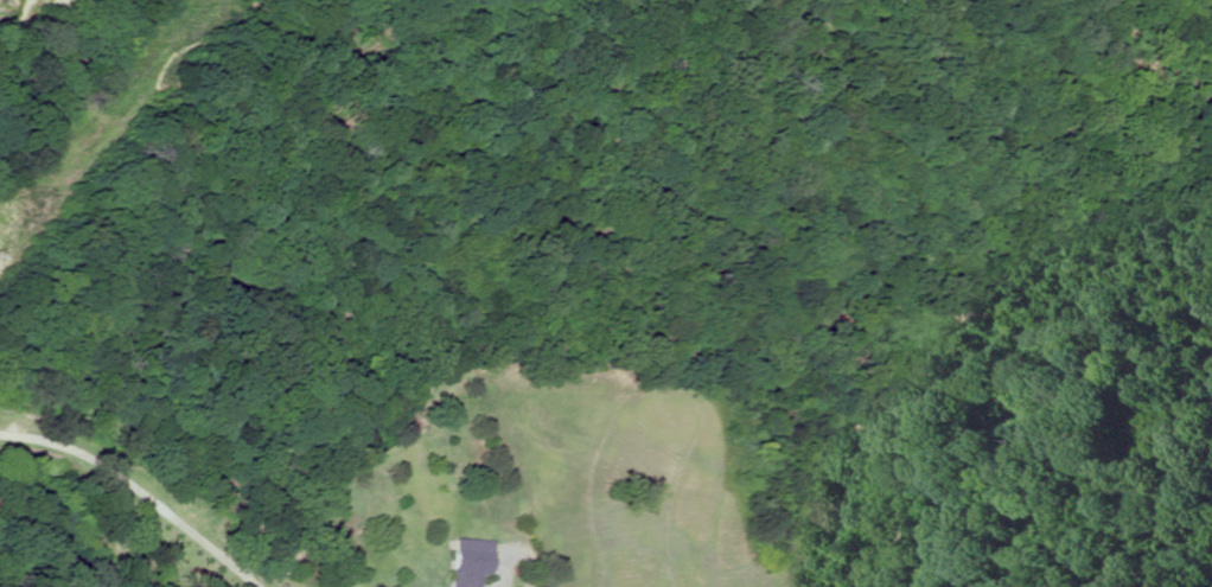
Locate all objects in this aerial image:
building: (466, 561)

